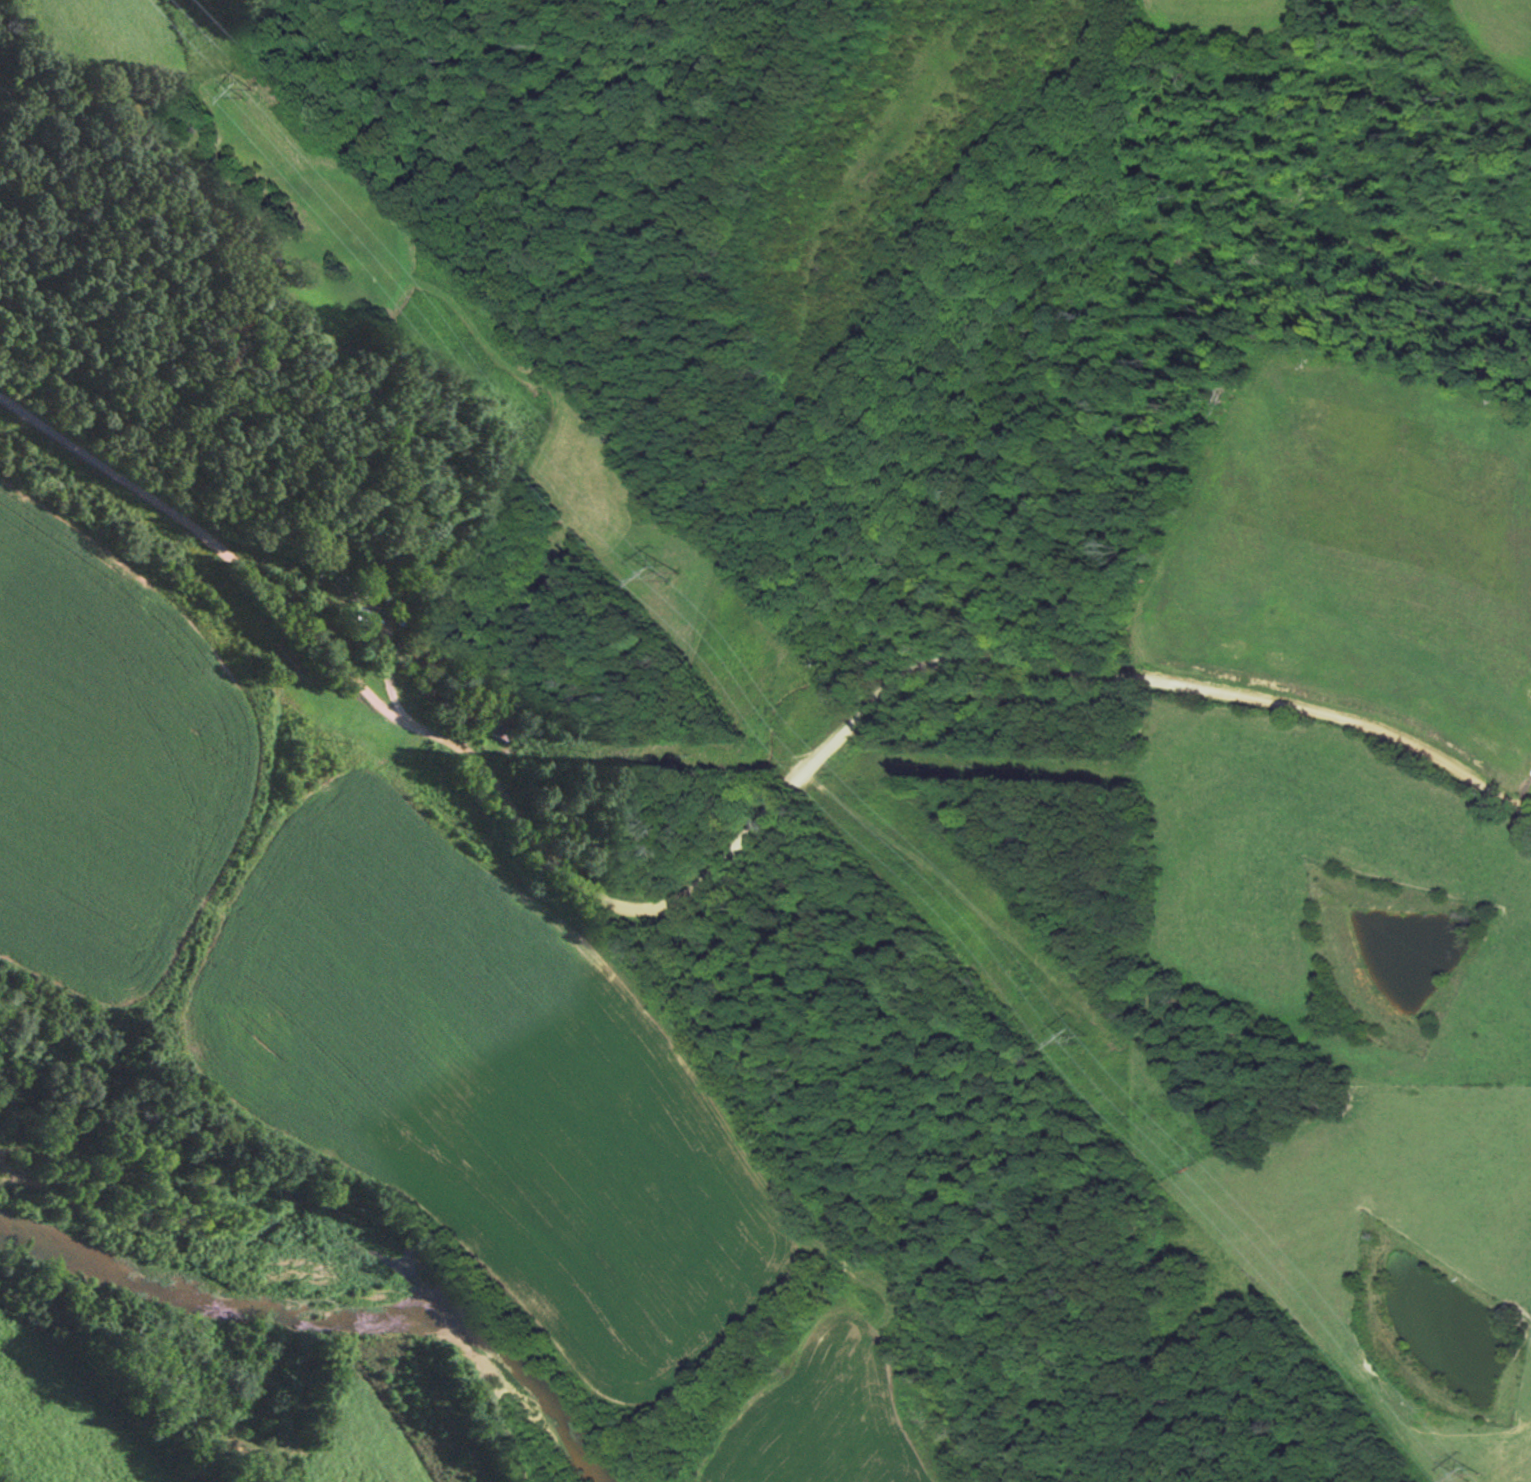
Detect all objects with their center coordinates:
power tower: (241, 87)
power tower: (670, 569)
building: (361, 599)
building: (498, 726)
building: (306, 778)
road: (721, 864)
power tower: (1083, 1037)
power tower: (1470, 1469)

